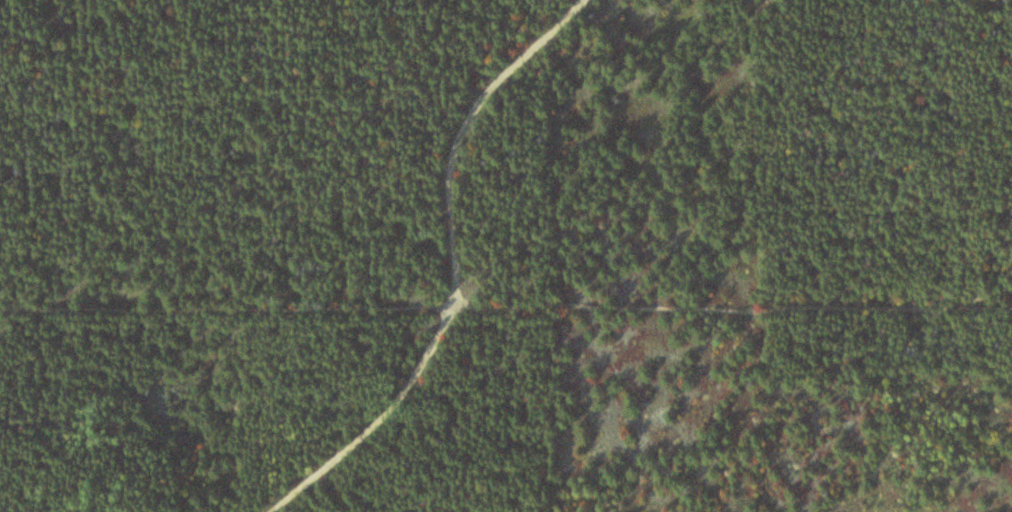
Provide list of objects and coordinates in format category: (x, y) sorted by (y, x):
road: (464, 268)
road: (506, 303)

